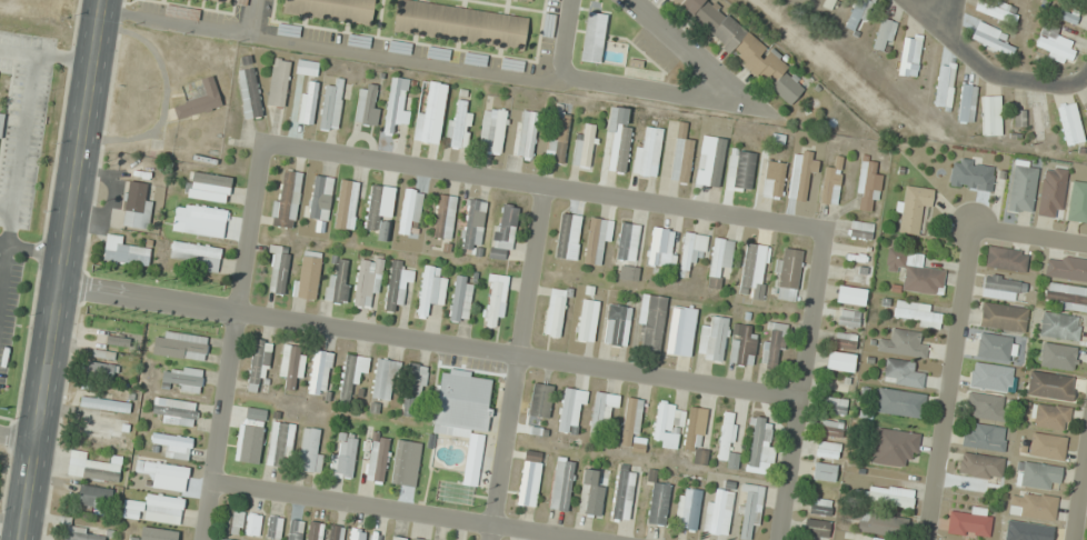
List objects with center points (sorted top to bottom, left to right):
building: (225, 0)
building: (527, 0)
building: (240, 2)
building: (829, 3)
building: (330, 9)
building: (997, 10)
building: (181, 12)
building: (859, 13)
road: (248, 14)
building: (1065, 16)
road: (951, 20)
building: (458, 24)
building: (548, 24)
building: (288, 30)
building: (884, 33)
building: (594, 37)
building: (989, 39)
building: (358, 40)
road: (566, 40)
building: (392, 46)
building: (1056, 46)
building: (742, 48)
road: (688, 50)
building: (909, 56)
road: (423, 58)
building: (475, 59)
building: (511, 64)
building: (307, 68)
road: (986, 70)
building: (278, 82)
building: (945, 86)
building: (248, 87)
building: (199, 101)
building: (308, 102)
building: (398, 103)
building: (966, 103)
building: (367, 104)
building: (331, 106)
building: (1086, 109)
building: (430, 112)
building: (990, 116)
building: (0, 120)
building: (1070, 123)
building: (459, 124)
building: (492, 130)
building: (527, 134)
building: (558, 136)
building: (617, 139)
building: (585, 146)
building: (647, 151)
building: (679, 153)
building: (714, 166)
building: (740, 170)
building: (801, 174)
building: (973, 174)
building: (774, 179)
road: (548, 184)
building: (211, 186)
building: (830, 186)
building: (867, 186)
building: (1021, 189)
building: (1051, 192)
building: (320, 198)
building: (287, 199)
building: (1077, 202)
building: (136, 204)
building: (347, 204)
building: (379, 210)
building: (911, 210)
building: (410, 212)
building: (202, 217)
building: (445, 217)
building: (472, 224)
building: (860, 229)
building: (503, 232)
building: (568, 237)
road: (1030, 238)
building: (597, 241)
building: (627, 242)
building: (660, 247)
building: (691, 251)
building: (123, 252)
building: (195, 256)
building: (719, 259)
building: (1006, 259)
building: (752, 267)
building: (1066, 268)
building: (279, 269)
road: (63, 270)
building: (914, 272)
building: (786, 273)
building: (309, 274)
building: (338, 280)
building: (367, 281)
building: (398, 286)
building: (1003, 288)
building: (431, 290)
building: (1065, 297)
road: (149, 299)
building: (460, 299)
building: (495, 301)
building: (556, 312)
building: (917, 314)
building: (1003, 317)
building: (848, 318)
building: (587, 320)
building: (651, 321)
building: (617, 324)
building: (1059, 326)
building: (680, 331)
building: (712, 338)
building: (845, 340)
road: (232, 341)
building: (904, 343)
building: (744, 344)
building: (180, 346)
building: (774, 346)
building: (995, 347)
road: (520, 354)
building: (1057, 356)
road: (526, 362)
building: (257, 364)
building: (291, 367)
building: (100, 371)
building: (318, 373)
building: (901, 373)
building: (352, 376)
building: (990, 377)
building: (181, 379)
building: (383, 380)
road: (951, 383)
road: (805, 386)
building: (1050, 386)
building: (413, 390)
building: (899, 402)
building: (104, 404)
building: (536, 404)
building: (835, 406)
building: (987, 406)
building: (570, 410)
building: (176, 411)
building: (465, 411)
building: (602, 411)
building: (1049, 417)
building: (630, 421)
building: (667, 422)
building: (830, 428)
building: (250, 434)
building: (696, 434)
road: (19, 438)
building: (107, 438)
building: (985, 438)
building: (727, 441)
building: (280, 442)
building: (173, 444)
building: (760, 446)
building: (894, 446)
building: (1047, 447)
building: (310, 450)
building: (827, 450)
building: (343, 457)
building: (376, 458)
building: (406, 463)
building: (979, 466)
building: (94, 467)
building: (824, 472)
building: (164, 474)
building: (1038, 476)
building: (529, 479)
building: (561, 484)
building: (449, 492)
building: (622, 492)
building: (594, 496)
building: (886, 496)
building: (96, 497)
building: (658, 503)
road: (1081, 503)
building: (820, 506)
building: (1034, 506)
building: (156, 509)
building: (688, 509)
road: (401, 511)
building: (717, 512)
building: (749, 512)
building: (232, 521)
building: (970, 522)
building: (253, 524)
building: (879, 524)
building: (273, 528)
building: (816, 528)
building: (295, 529)
building: (315, 531)
building: (154, 532)
building: (336, 532)
building: (84, 533)
building: (357, 534)
building: (398, 538)
building: (227, 539)
building: (417, 539)

